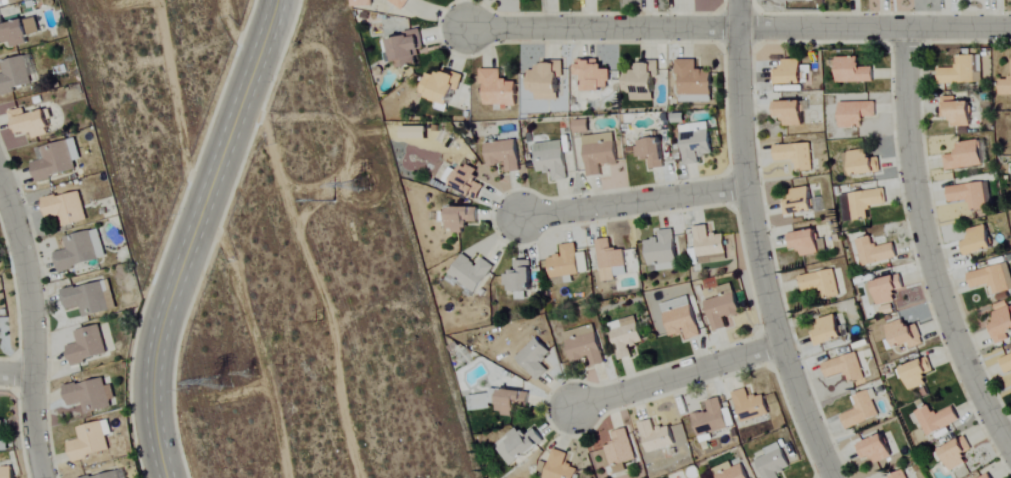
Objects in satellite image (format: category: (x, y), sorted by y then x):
building: (794, 0)
building: (362, 3)
building: (400, 3)
road: (875, 27)
road: (602, 28)
building: (18, 31)
building: (408, 48)
building: (855, 71)
building: (959, 72)
building: (790, 73)
building: (595, 74)
building: (16, 75)
building: (547, 81)
building: (643, 82)
building: (694, 82)
building: (1005, 87)
building: (442, 88)
building: (499, 89)
building: (958, 111)
building: (791, 112)
building: (857, 113)
building: (31, 123)
building: (583, 126)
building: (416, 132)
building: (697, 142)
building: (601, 152)
building: (653, 152)
building: (505, 155)
building: (797, 155)
building: (965, 156)
building: (553, 159)
building: (53, 161)
building: (861, 163)
building: (468, 182)
power tower: (359, 183)
building: (969, 195)
power tower: (329, 202)
road: (636, 202)
building: (800, 202)
building: (867, 203)
building: (66, 208)
building: (462, 218)
road: (192, 235)
building: (979, 241)
building: (806, 242)
road: (756, 244)
building: (710, 245)
road: (925, 246)
building: (81, 250)
building: (663, 251)
building: (876, 252)
building: (610, 261)
building: (564, 265)
building: (472, 273)
building: (520, 277)
building: (992, 279)
building: (821, 283)
building: (887, 291)
building: (89, 298)
building: (724, 308)
power tower: (313, 317)
building: (682, 318)
building: (1002, 326)
road: (32, 327)
building: (829, 331)
building: (906, 335)
building: (626, 336)
building: (88, 345)
building: (585, 345)
building: (536, 359)
building: (1007, 364)
building: (846, 367)
power tower: (233, 372)
power tower: (254, 374)
building: (918, 374)
road: (16, 375)
road: (675, 376)
power tower: (204, 378)
building: (89, 396)
building: (503, 402)
building: (751, 405)
building: (862, 411)
building: (937, 420)
building: (1, 429)
building: (657, 437)
building: (91, 441)
building: (519, 446)
building: (877, 449)
building: (619, 452)
building: (958, 454)
building: (774, 462)
building: (560, 466)
building: (731, 471)
building: (8, 472)
building: (110, 475)
building: (901, 475)
building: (989, 476)

